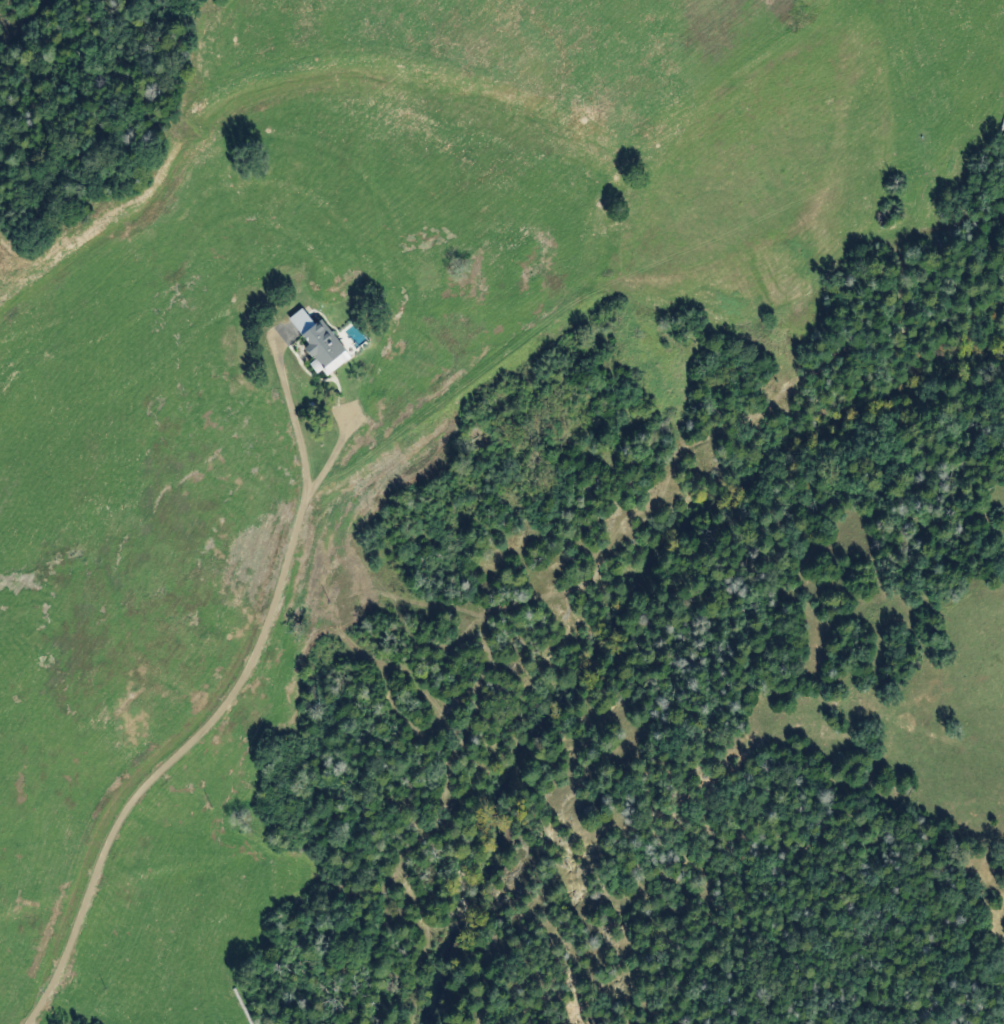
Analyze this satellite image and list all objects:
road: (187, 217)
building: (312, 342)
road: (342, 609)
road: (55, 956)

